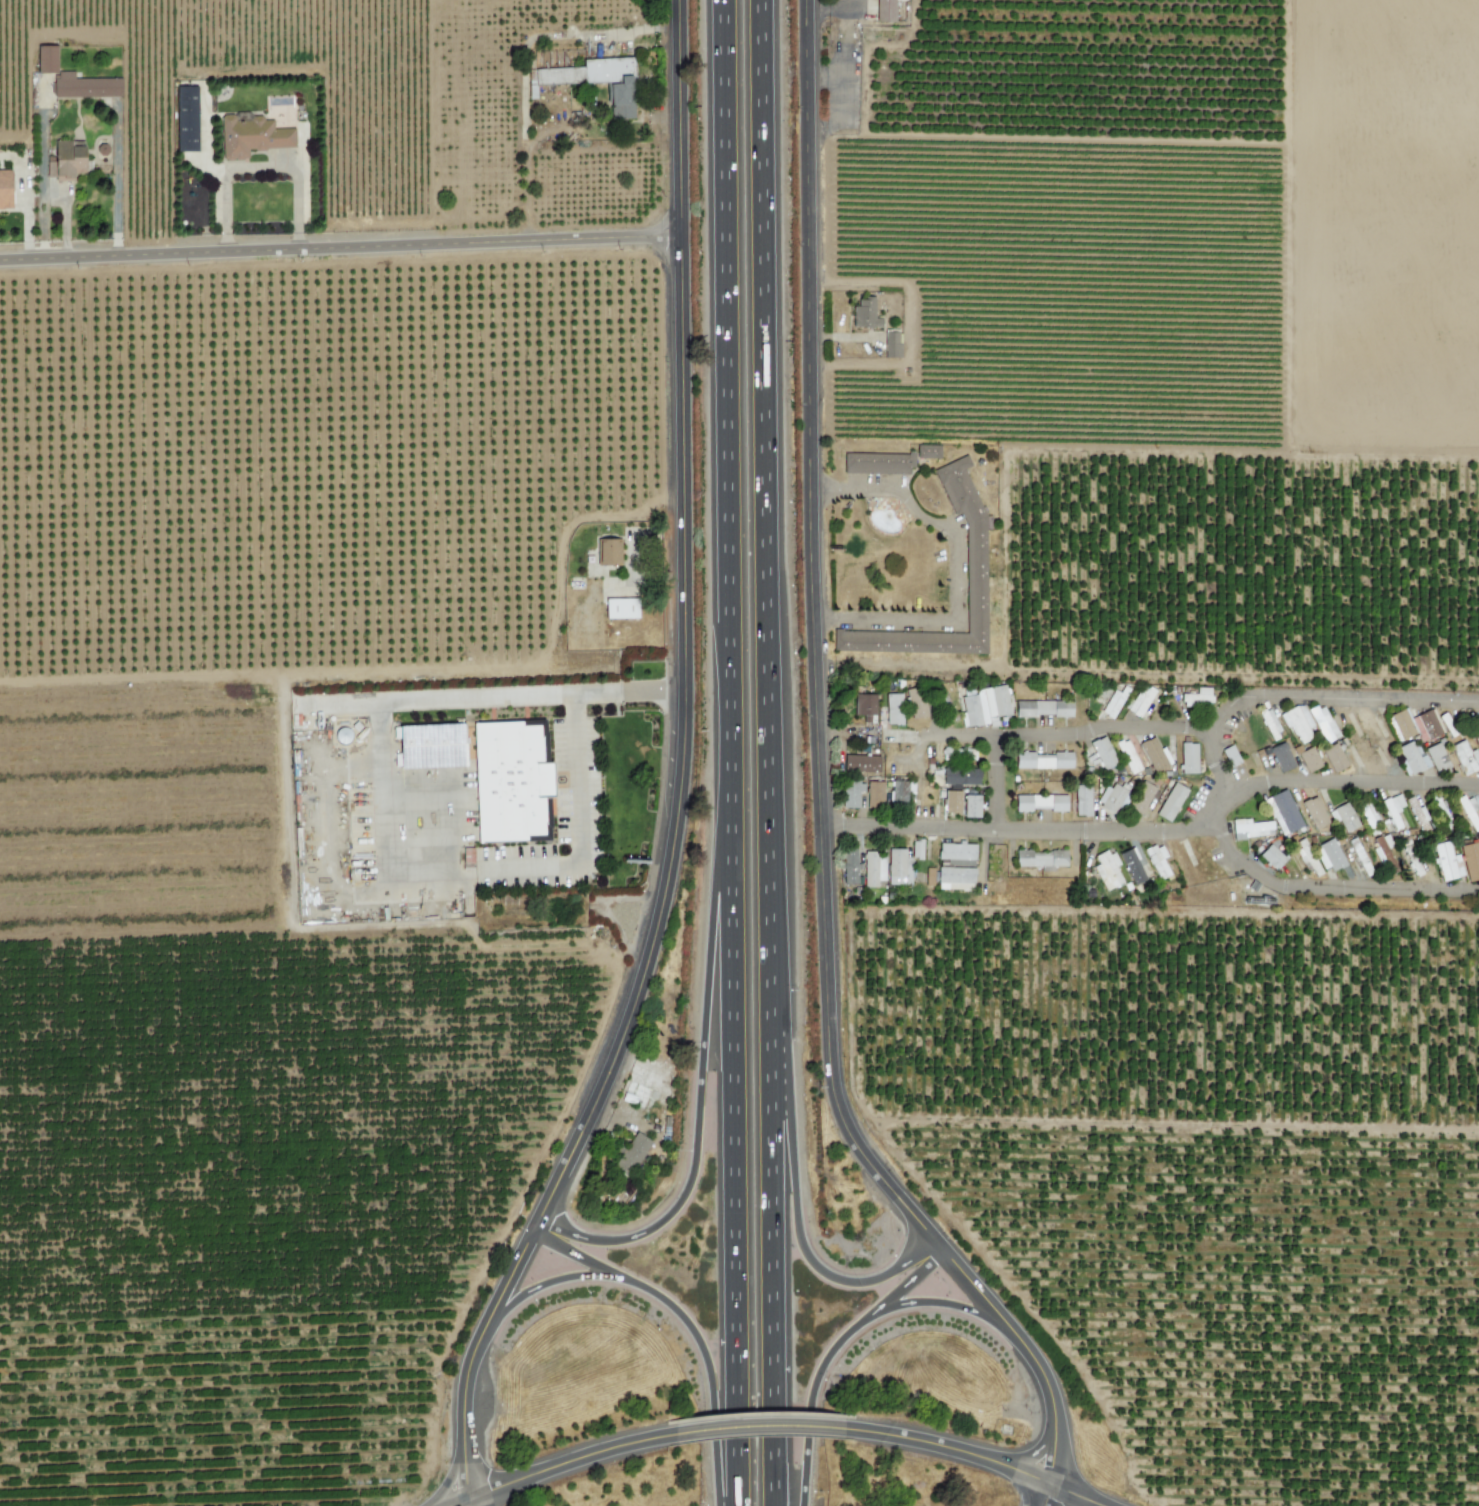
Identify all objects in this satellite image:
building: (885, 10)
building: (46, 59)
building: (596, 80)
building: (84, 86)
building: (186, 118)
building: (252, 137)
building: (64, 160)
building: (5, 188)
road: (24, 198)
road: (341, 249)
building: (865, 313)
building: (891, 344)
building: (927, 451)
building: (877, 463)
building: (954, 480)
building: (607, 552)
road: (952, 568)
building: (620, 608)
road: (685, 625)
building: (921, 637)
road: (814, 639)
building: (1197, 697)
building: (1140, 700)
road: (1283, 700)
building: (1114, 702)
building: (916, 703)
building: (864, 704)
building: (984, 706)
building: (1043, 708)
building: (893, 709)
building: (1298, 723)
building: (1323, 723)
building: (1270, 724)
building: (1415, 725)
road: (1057, 734)
road: (941, 738)
building: (430, 746)
road: (770, 752)
building: (1103, 752)
road: (730, 753)
building: (1154, 754)
building: (1127, 756)
building: (1230, 756)
building: (1464, 756)
building: (1281, 757)
building: (1410, 757)
building: (1436, 757)
building: (1188, 758)
building: (1334, 758)
building: (1308, 759)
building: (1043, 760)
building: (861, 763)
building: (960, 776)
road: (1351, 780)
building: (512, 782)
building: (898, 791)
building: (851, 793)
building: (874, 794)
building: (1112, 796)
building: (952, 801)
building: (1040, 802)
building: (1170, 802)
building: (971, 806)
building: (1393, 809)
building: (1282, 812)
building: (1314, 813)
building: (1419, 815)
building: (1344, 817)
road: (1009, 826)
building: (1250, 829)
road: (391, 831)
building: (917, 849)
building: (956, 853)
building: (1328, 855)
building: (1271, 856)
building: (1383, 856)
building: (1040, 858)
building: (1307, 860)
building: (1412, 860)
building: (1157, 861)
building: (1446, 861)
building: (1470, 861)
building: (1135, 865)
building: (849, 866)
building: (898, 867)
building: (873, 868)
building: (1107, 870)
building: (929, 876)
building: (955, 878)
road: (1328, 886)
road: (704, 1078)
building: (632, 1152)
road: (796, 1179)
road: (576, 1254)
road: (908, 1280)
road: (550, 1283)
road: (940, 1303)
road: (1027, 1351)
road: (475, 1356)
road: (711, 1369)
road: (810, 1397)
road: (757, 1427)
road: (949, 1448)
road: (1035, 1457)
road: (562, 1465)
road: (1048, 1495)
road: (1075, 1495)
road: (466, 1504)

